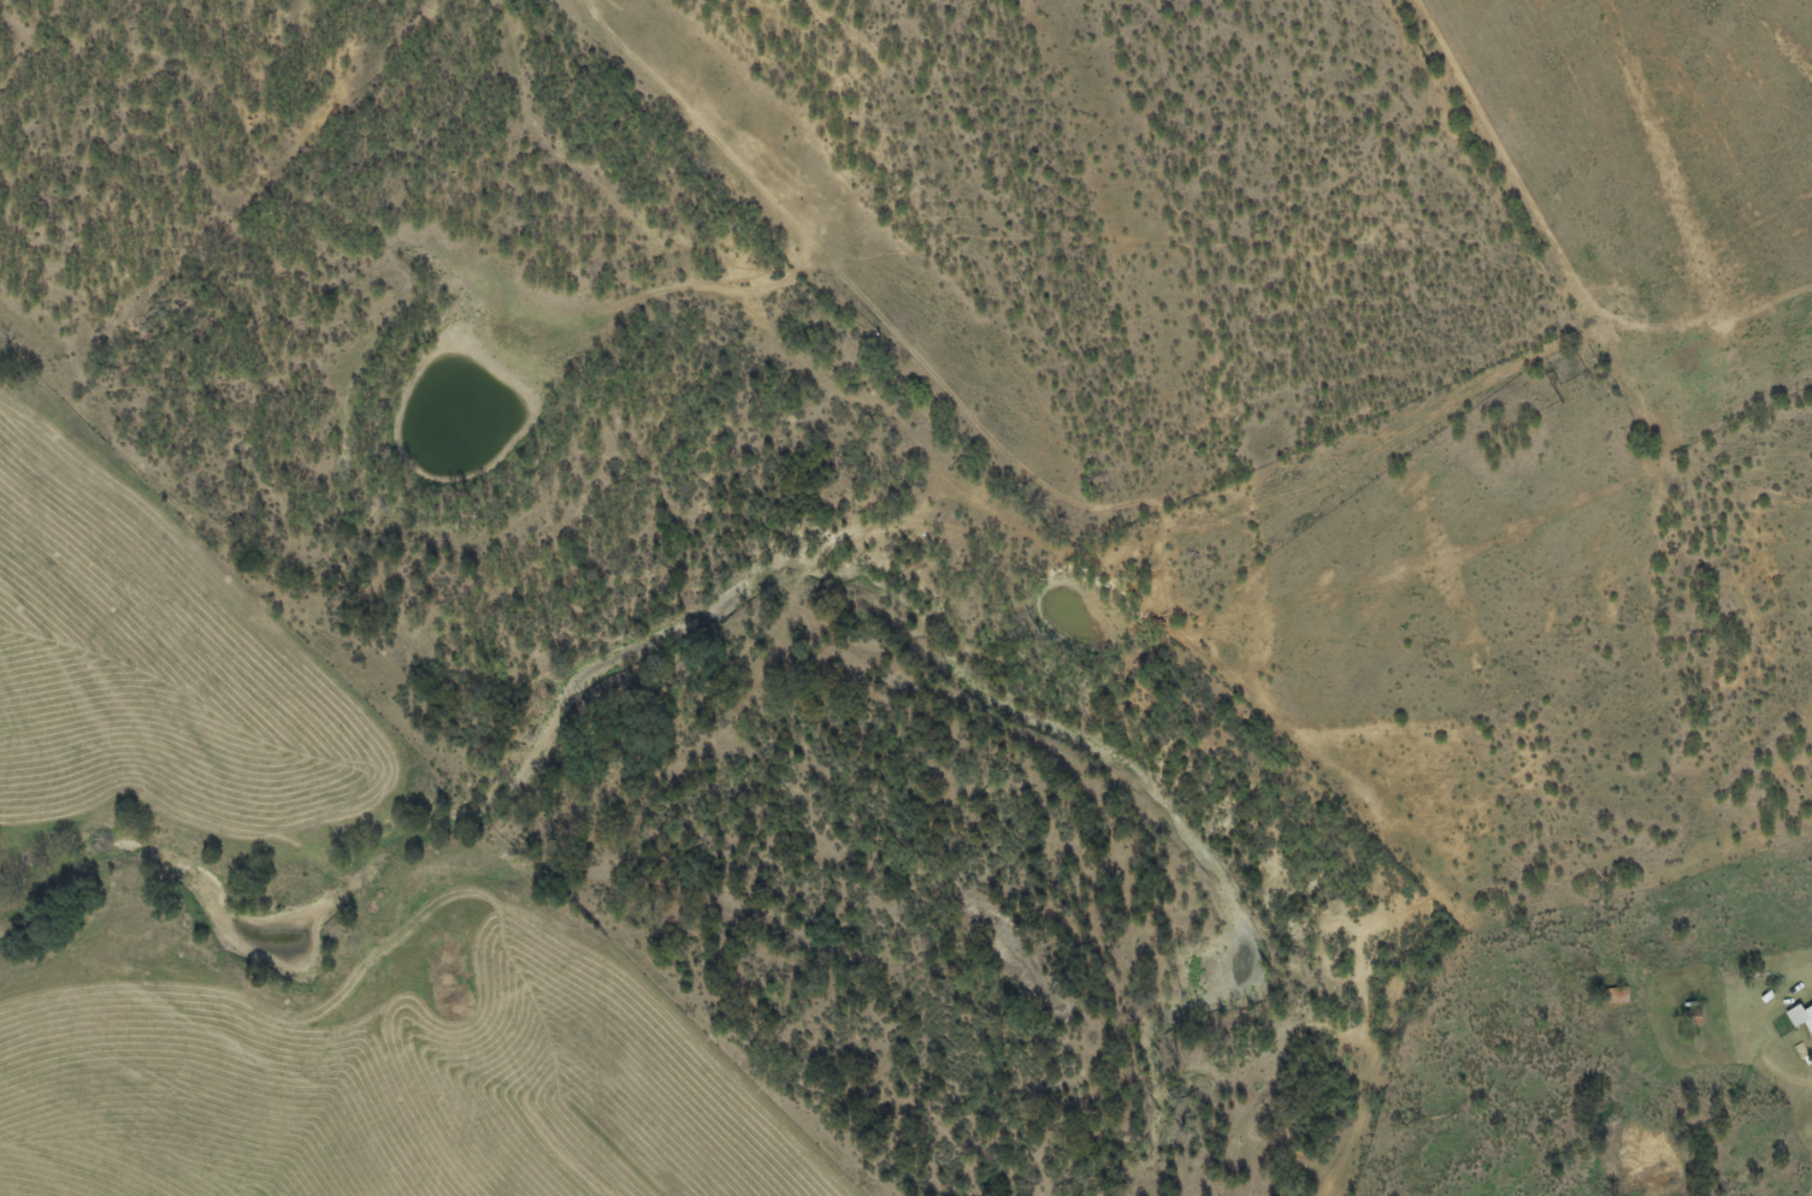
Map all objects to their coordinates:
building: (1801, 1017)

